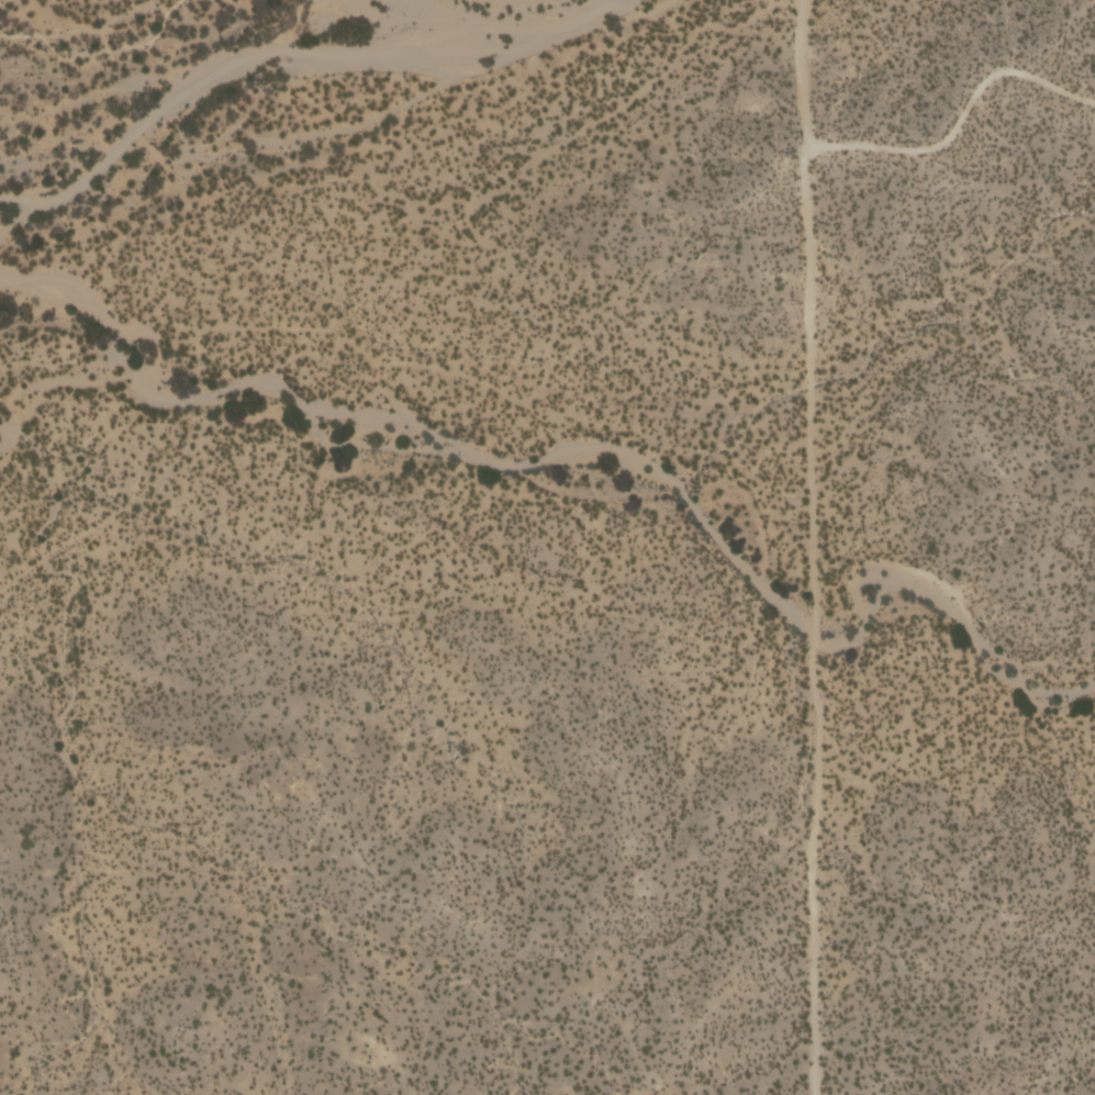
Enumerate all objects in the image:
road: (963, 119)
road: (812, 547)

